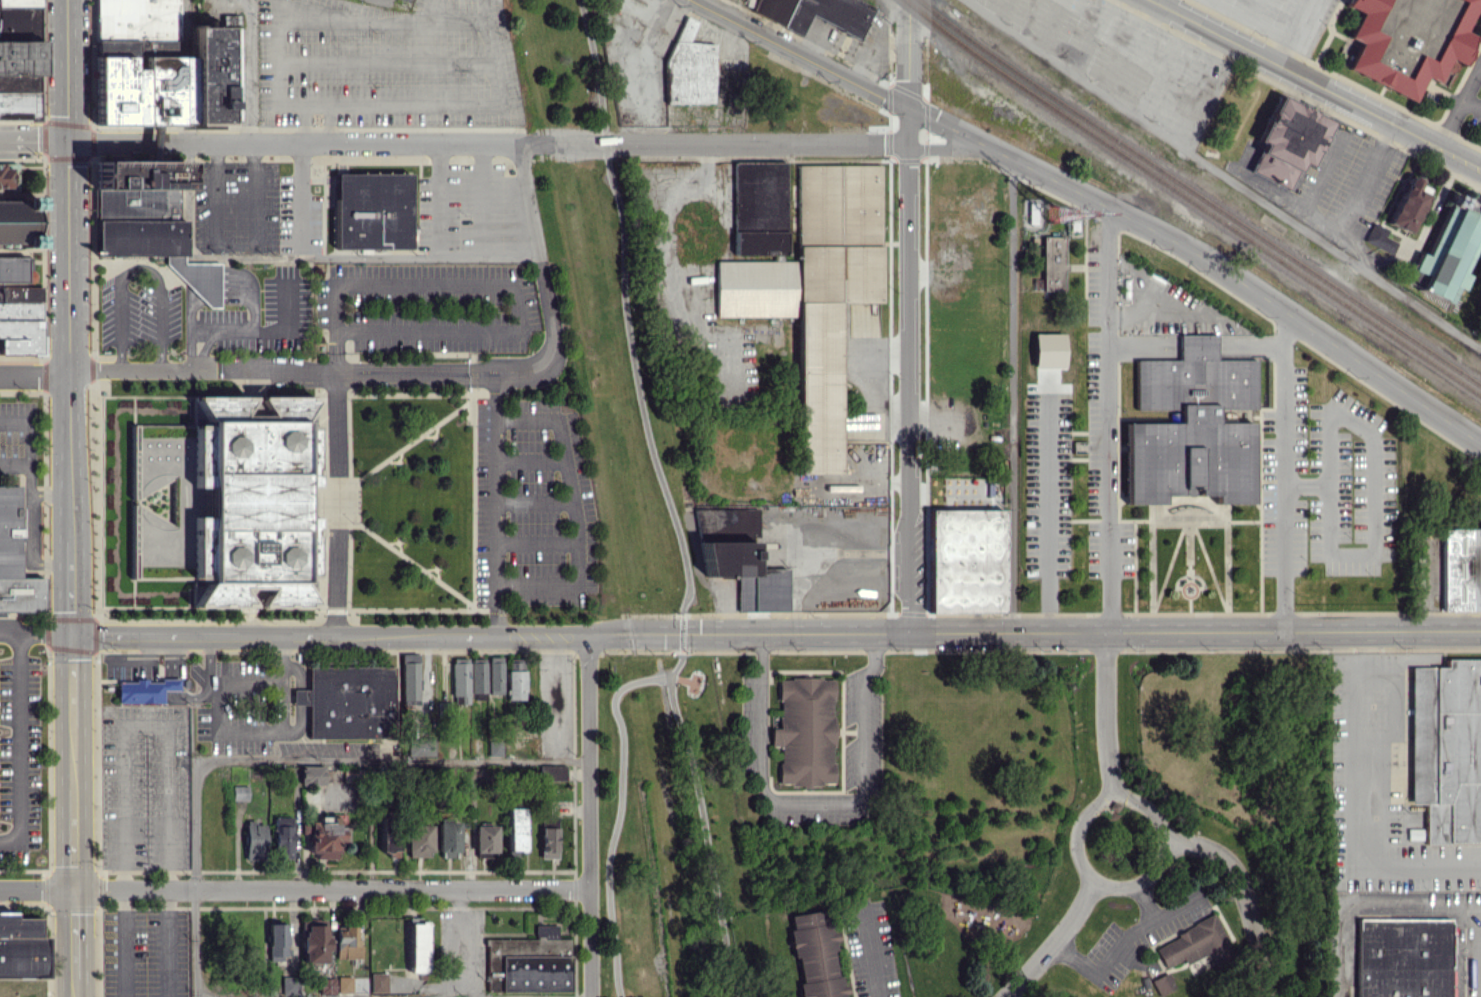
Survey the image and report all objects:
road: (388, 3)
building: (815, 13)
road: (1293, 32)
building: (1408, 40)
building: (19, 59)
road: (594, 62)
road: (384, 63)
parking lot: (383, 64)
building: (163, 68)
building: (689, 68)
road: (247, 70)
road: (1316, 84)
road: (307, 104)
road: (1472, 104)
road: (1459, 106)
road: (303, 123)
road: (330, 123)
road: (1166, 134)
road: (604, 141)
building: (1287, 141)
road: (494, 143)
building: (5, 175)
railway: (1199, 196)
road: (482, 198)
railway: (1191, 201)
parking lot: (256, 202)
road: (1097, 202)
parking lot: (465, 203)
building: (1408, 204)
building: (759, 207)
building: (365, 210)
building: (1031, 213)
building: (148, 219)
building: (18, 222)
road: (1329, 224)
building: (1379, 238)
road: (235, 245)
road: (437, 249)
road: (539, 249)
building: (1447, 251)
road: (311, 254)
building: (1053, 262)
road: (139, 267)
road: (68, 270)
road: (492, 281)
building: (816, 292)
road: (1399, 294)
road: (910, 316)
building: (20, 320)
building: (1048, 350)
road: (323, 371)
road: (64, 374)
road: (20, 378)
road: (637, 385)
road: (1109, 420)
building: (1190, 425)
parking lot: (17, 436)
road: (15, 464)
road: (1283, 472)
road: (31, 478)
road: (1306, 485)
building: (841, 487)
road: (51, 496)
railway: (607, 497)
building: (224, 501)
road: (336, 503)
road: (493, 503)
parking lot: (533, 505)
road: (576, 509)
road: (1046, 521)
flagpole: (350, 522)
building: (965, 555)
road: (1362, 555)
building: (738, 558)
building: (14, 562)
road: (52, 565)
building: (1461, 569)
road: (72, 588)
road: (681, 632)
road: (776, 633)
road: (35, 635)
traffic signals: (72, 636)
road: (170, 656)
road: (208, 666)
building: (494, 674)
building: (477, 675)
building: (409, 679)
building: (459, 680)
building: (514, 680)
road: (72, 681)
road: (243, 682)
road: (170, 683)
building: (143, 690)
road: (552, 696)
road: (188, 698)
building: (348, 701)
road: (1105, 715)
road: (145, 724)
road: (276, 729)
building: (803, 729)
parking lot: (20, 738)
building: (420, 746)
road: (19, 747)
building: (1447, 750)
road: (73, 758)
road: (391, 759)
building: (551, 771)
building: (311, 774)
building: (239, 792)
road: (816, 798)
road: (1353, 809)
road: (1092, 811)
road: (618, 814)
road: (590, 815)
road: (703, 823)
building: (515, 829)
building: (1414, 834)
building: (323, 836)
building: (548, 836)
building: (282, 837)
road: (74, 839)
building: (447, 839)
building: (417, 840)
building: (388, 841)
building: (484, 841)
building: (254, 844)
road: (193, 879)
traffic signals: (75, 889)
road: (294, 889)
road: (1244, 895)
road: (1146, 902)
road: (1410, 909)
road: (1474, 909)
road: (75, 933)
building: (276, 940)
building: (313, 940)
road: (1122, 940)
building: (346, 942)
road: (1053, 942)
road: (122, 943)
road: (166, 943)
building: (1193, 943)
building: (417, 945)
building: (21, 947)
road: (869, 947)
building: (814, 955)
building: (1401, 957)
building: (528, 962)
building: (378, 982)
building: (289, 984)
building: (344, 984)
building: (1162, 984)
road: (75, 987)
road: (1339, 988)

